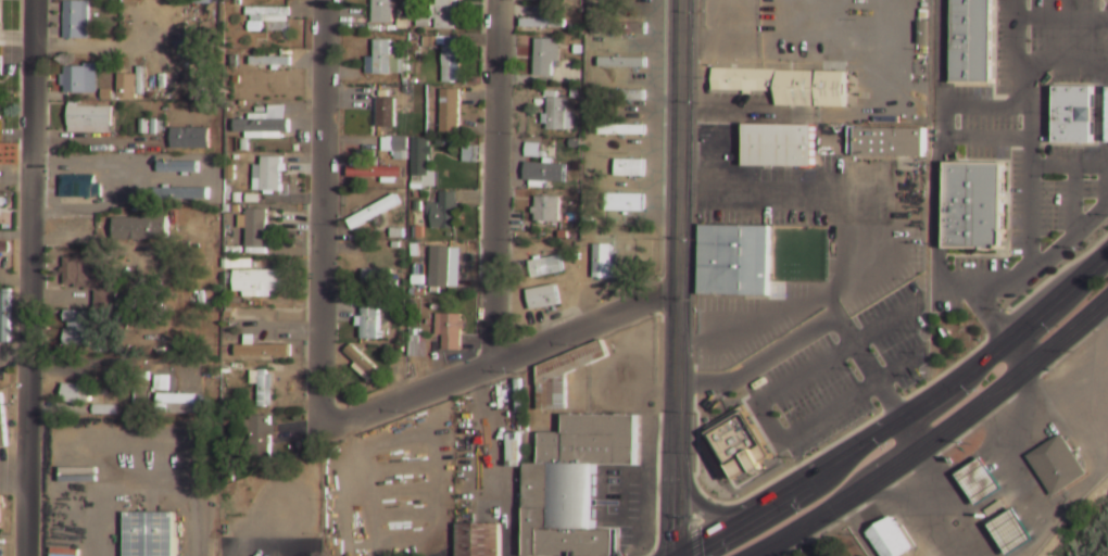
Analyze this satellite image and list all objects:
building: (534, 0)
building: (386, 11)
building: (269, 13)
building: (443, 14)
road: (1062, 18)
building: (75, 22)
building: (544, 22)
building: (629, 24)
building: (972, 41)
building: (418, 50)
building: (383, 52)
building: (448, 54)
building: (549, 55)
building: (629, 59)
building: (273, 60)
road: (1062, 62)
building: (1, 65)
road: (944, 67)
building: (76, 81)
building: (788, 85)
building: (125, 89)
building: (626, 93)
building: (0, 108)
road: (984, 108)
building: (452, 111)
building: (389, 112)
building: (561, 114)
building: (1073, 115)
building: (87, 121)
building: (267, 123)
building: (1107, 126)
building: (629, 129)
road: (1030, 129)
building: (189, 139)
building: (443, 141)
building: (889, 141)
building: (777, 146)
building: (394, 147)
building: (531, 150)
building: (469, 154)
building: (424, 164)
building: (627, 166)
road: (1069, 167)
building: (375, 169)
building: (268, 170)
building: (546, 172)
road: (493, 181)
building: (79, 187)
road: (1073, 198)
building: (3, 201)
building: (626, 202)
building: (419, 205)
building: (973, 206)
building: (550, 208)
building: (376, 212)
road: (320, 214)
building: (444, 215)
building: (256, 217)
building: (139, 229)
building: (399, 233)
building: (5, 248)
building: (442, 252)
building: (732, 258)
building: (603, 262)
building: (549, 265)
road: (937, 266)
road: (28, 278)
building: (380, 278)
road: (677, 278)
building: (89, 281)
building: (259, 282)
road: (1045, 289)
building: (546, 296)
road: (987, 314)
building: (5, 315)
building: (372, 317)
road: (827, 323)
building: (75, 330)
building: (452, 330)
building: (413, 345)
building: (264, 351)
road: (1019, 354)
road: (496, 359)
building: (366, 365)
building: (396, 369)
building: (562, 377)
building: (265, 387)
building: (74, 394)
building: (178, 405)
building: (102, 412)
road: (760, 414)
road: (899, 418)
building: (1, 422)
building: (263, 439)
road: (939, 439)
building: (738, 444)
building: (1056, 465)
building: (980, 481)
gas station: (980, 481)
building: (572, 484)
road: (698, 504)
road: (848, 513)
road: (856, 530)
building: (1012, 532)
gas station: (1012, 532)
building: (150, 534)
building: (887, 539)
building: (478, 540)
road: (768, 552)

